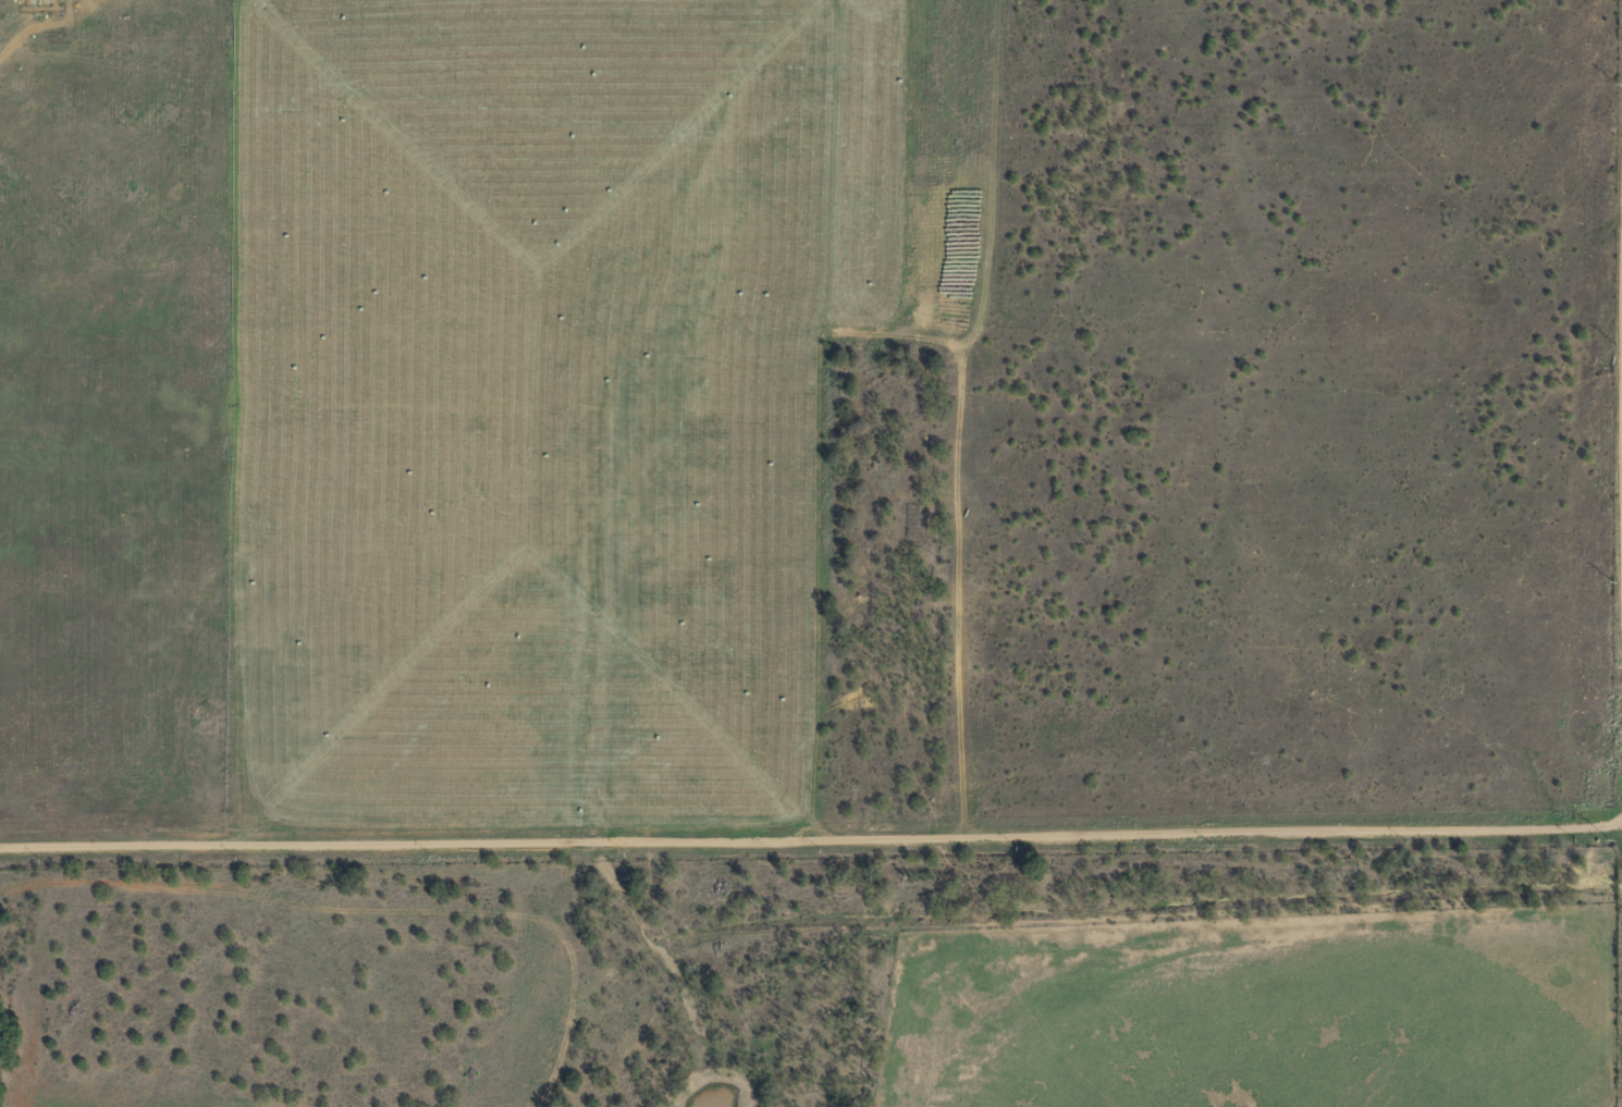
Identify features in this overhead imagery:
road: (349, 905)

